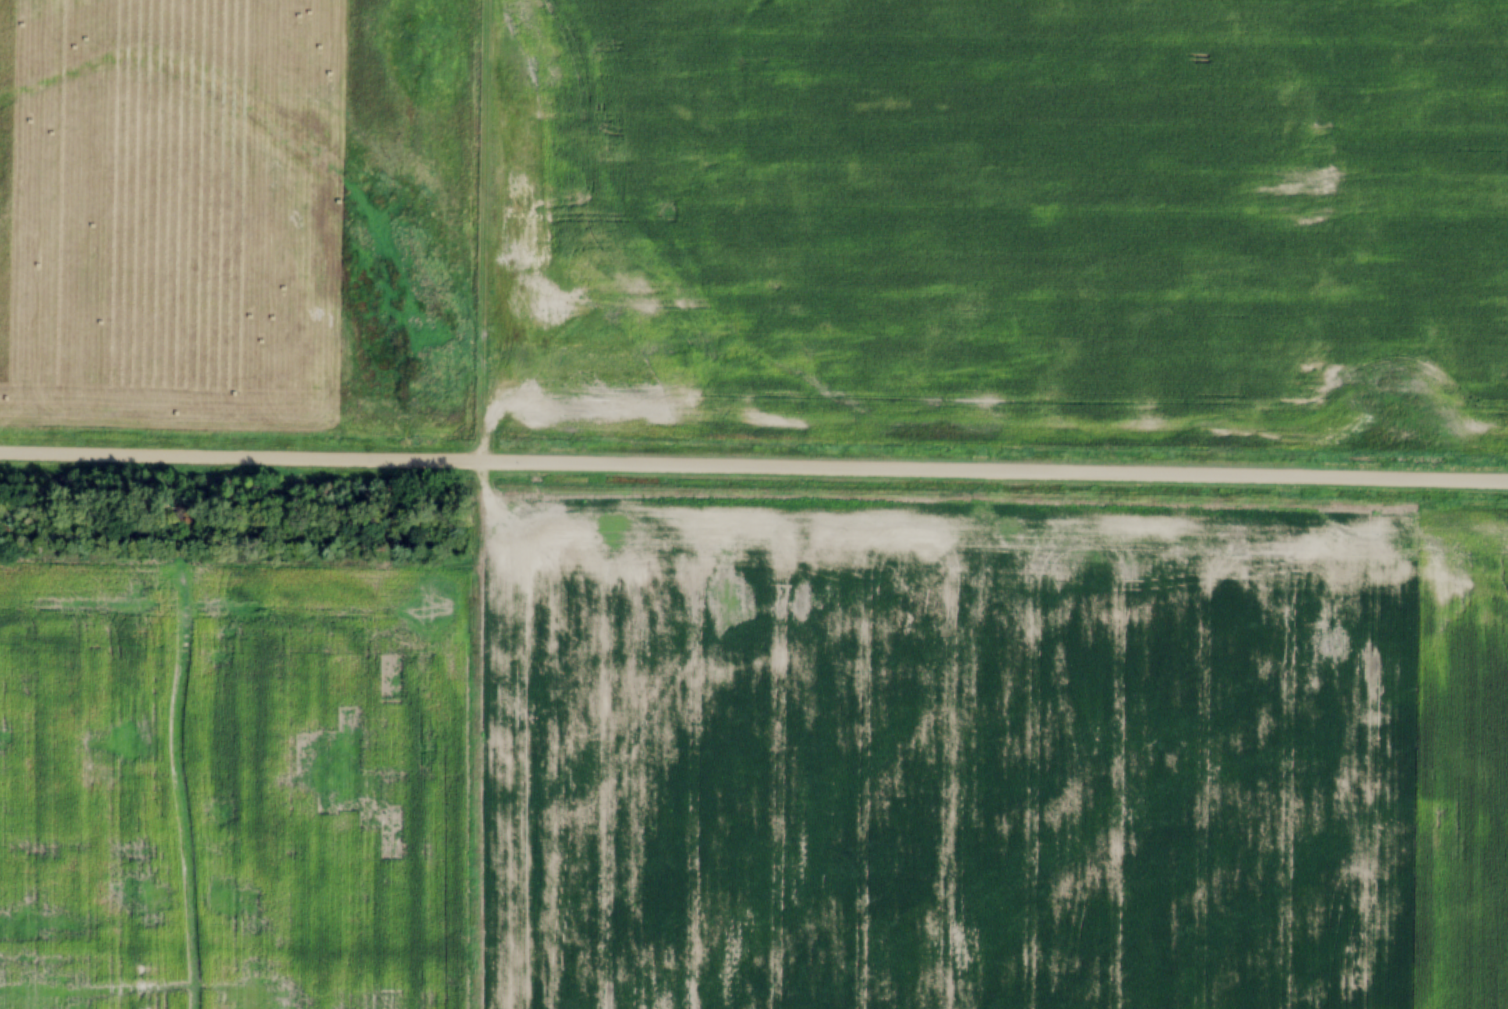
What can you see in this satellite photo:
road: (753, 468)

